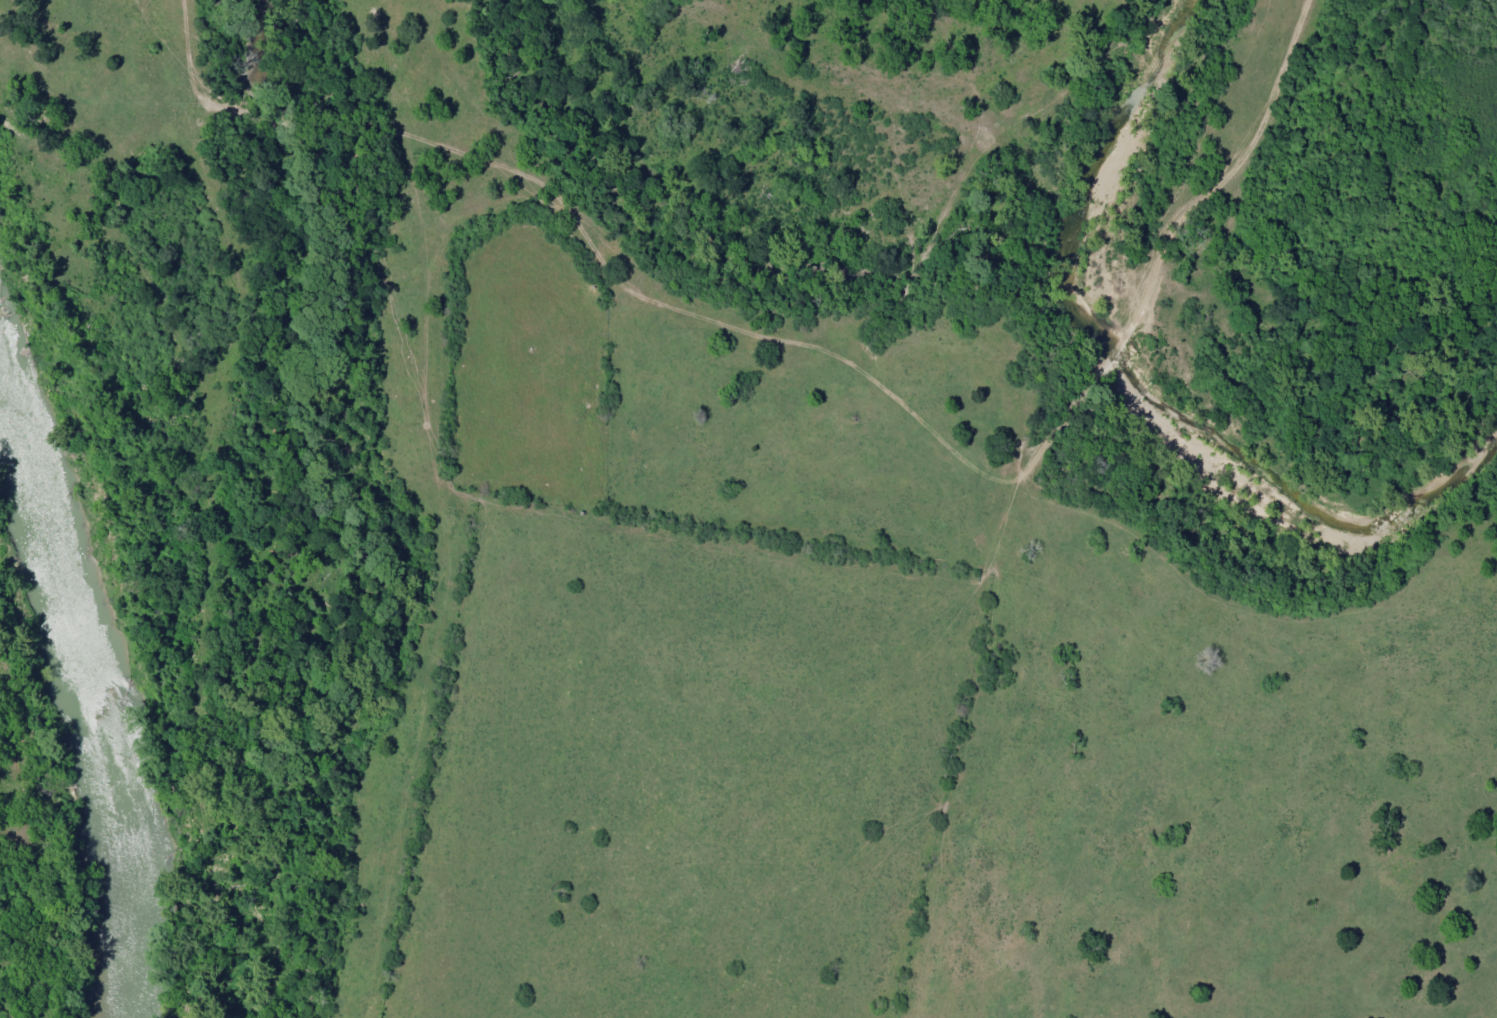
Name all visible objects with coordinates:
road: (1047, 480)
river: (132, 645)
road: (2, 1015)

